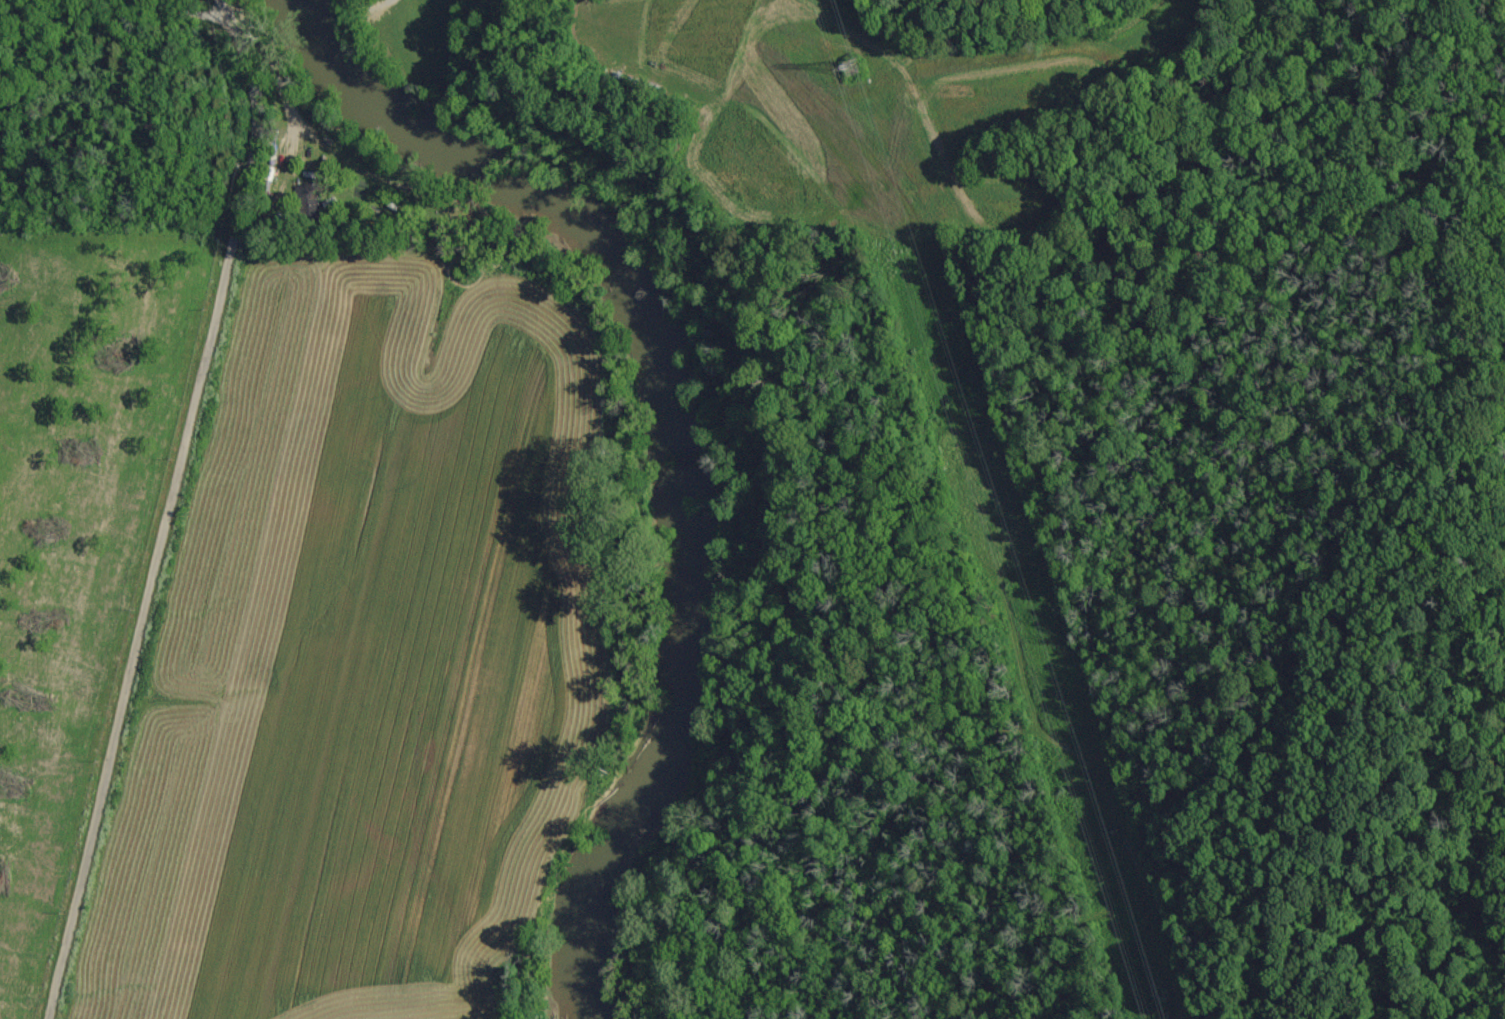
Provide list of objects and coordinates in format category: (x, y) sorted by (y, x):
road: (186, 10)
power tower: (834, 76)
road: (163, 508)
road: (100, 996)
power tower: (1152, 1002)

